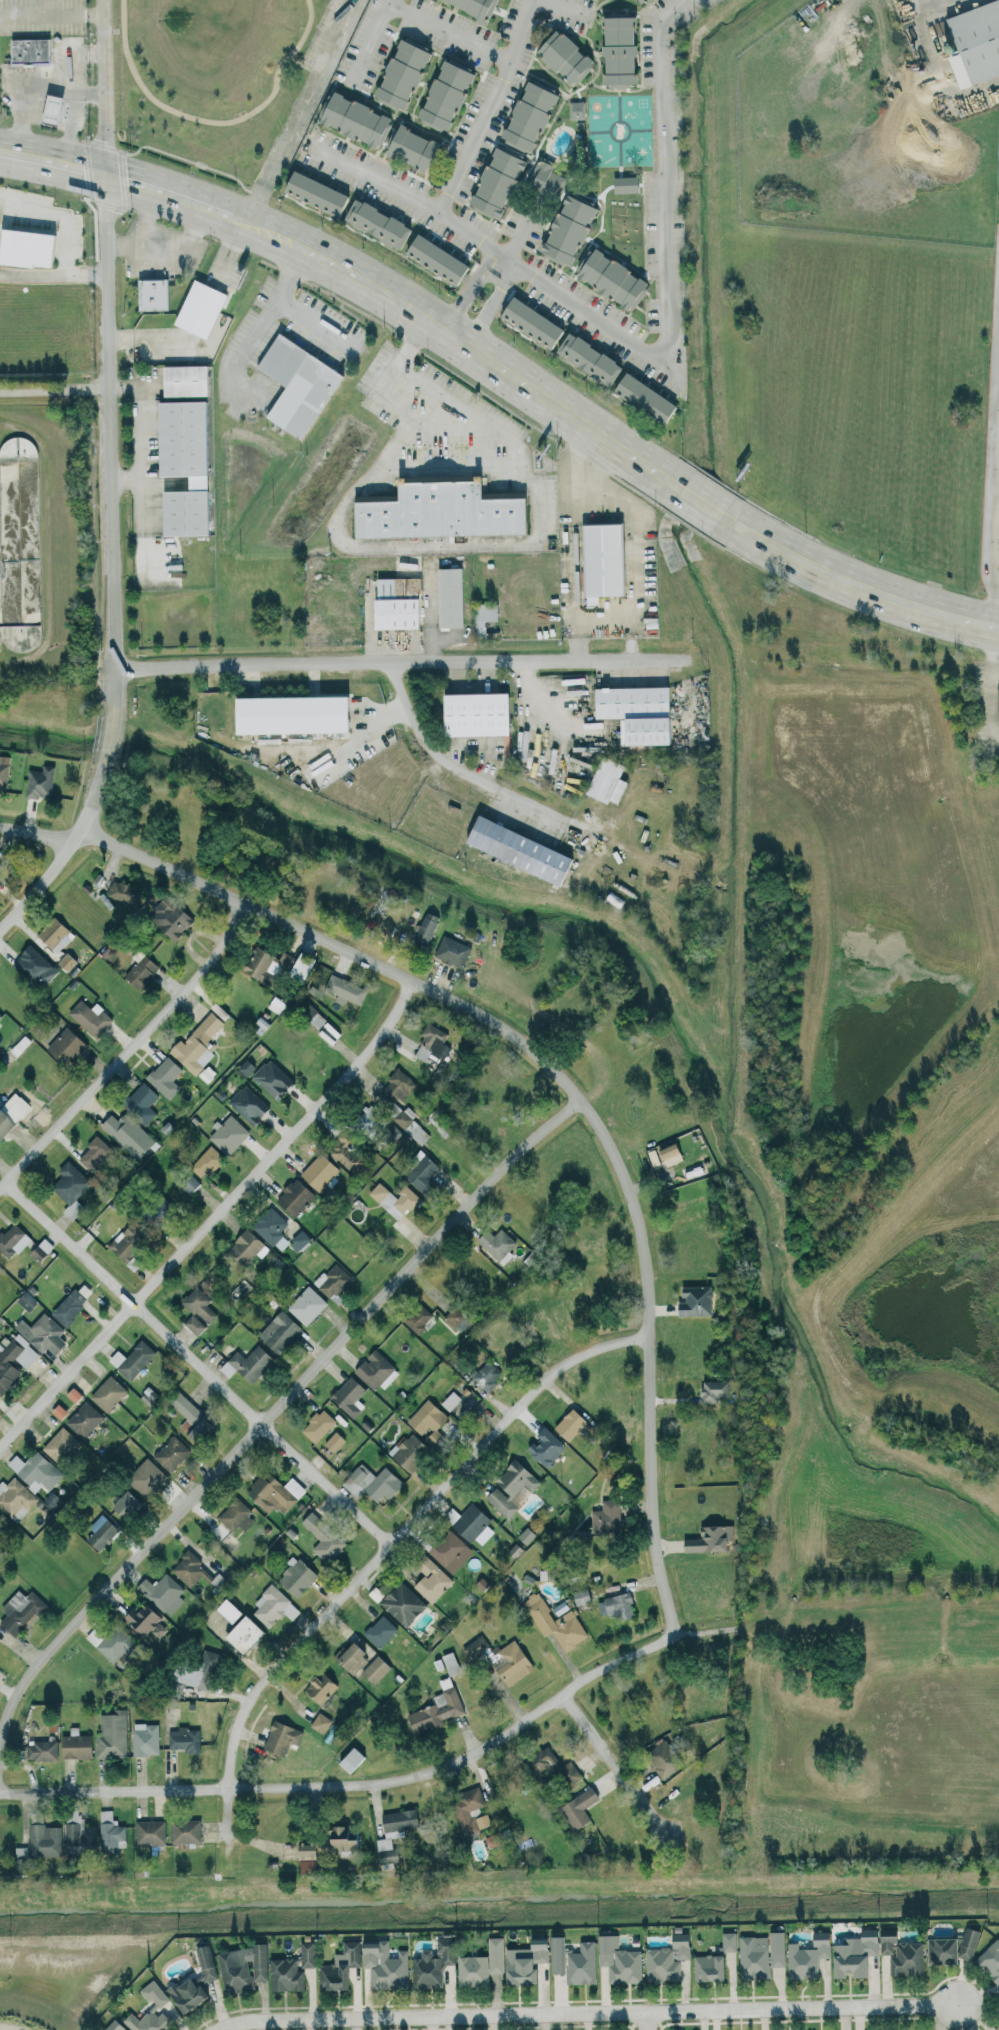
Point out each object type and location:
building: (635, 1)
road: (941, 6)
road: (79, 7)
building: (470, 7)
road: (560, 8)
road: (90, 14)
road: (40, 16)
road: (448, 31)
road: (371, 40)
building: (971, 40)
building: (34, 50)
building: (613, 51)
building: (559, 56)
road: (303, 61)
road: (946, 71)
building: (396, 73)
park: (229, 82)
road: (101, 87)
road: (91, 94)
building: (439, 95)
road: (74, 99)
road: (32, 105)
road: (489, 107)
building: (58, 109)
building: (573, 110)
road: (295, 111)
building: (523, 115)
building: (349, 119)
road: (214, 121)
building: (406, 147)
road: (51, 162)
traffic signals: (103, 174)
building: (541, 179)
building: (491, 181)
building: (310, 192)
road: (174, 194)
road: (148, 219)
road: (60, 220)
building: (371, 223)
building: (562, 229)
road: (521, 230)
building: (31, 248)
road: (171, 252)
building: (430, 258)
road: (495, 265)
road: (504, 271)
road: (53, 279)
building: (606, 279)
building: (148, 294)
road: (465, 301)
building: (998, 307)
building: (193, 308)
road: (485, 314)
building: (526, 321)
road: (315, 322)
road: (260, 323)
road: (468, 345)
road: (648, 352)
building: (584, 359)
road: (998, 373)
building: (182, 380)
building: (292, 385)
road: (55, 392)
building: (638, 397)
road: (998, 420)
road: (447, 426)
road: (136, 432)
road: (111, 444)
building: (179, 465)
road: (445, 466)
road: (613, 490)
road: (702, 502)
road: (993, 504)
building: (432, 512)
wastewater plant: (46, 533)
road: (579, 534)
building: (19, 538)
road: (424, 547)
road: (994, 577)
road: (855, 582)
road: (648, 586)
building: (444, 597)
building: (393, 604)
building: (479, 615)
road: (606, 632)
road: (414, 654)
road: (994, 686)
building: (997, 705)
building: (634, 713)
building: (468, 714)
building: (286, 715)
road: (107, 738)
building: (5, 770)
building: (43, 782)
building: (603, 782)
road: (514, 795)
road: (64, 851)
building: (512, 851)
building: (1, 874)
building: (126, 894)
building: (174, 916)
building: (428, 927)
building: (57, 933)
building: (454, 950)
building: (69, 960)
building: (262, 963)
building: (37, 966)
river: (643, 966)
building: (143, 970)
building: (347, 988)
building: (1, 1015)
building: (92, 1017)
building: (199, 1040)
building: (432, 1041)
road: (128, 1048)
road: (546, 1065)
building: (273, 1079)
building: (166, 1080)
building: (230, 1134)
building: (206, 1162)
building: (323, 1171)
building: (70, 1189)
building: (295, 1196)
building: (395, 1200)
building: (159, 1212)
road: (211, 1216)
building: (14, 1240)
building: (300, 1240)
building: (128, 1242)
building: (247, 1248)
building: (696, 1300)
building: (200, 1304)
building: (307, 1305)
building: (70, 1306)
building: (418, 1317)
building: (456, 1317)
building: (194, 1324)
building: (280, 1331)
building: (43, 1333)
building: (133, 1359)
building: (13, 1360)
road: (195, 1362)
building: (252, 1363)
building: (376, 1370)
building: (109, 1393)
building: (350, 1396)
road: (271, 1400)
building: (451, 1401)
building: (192, 1416)
building: (85, 1419)
building: (428, 1422)
building: (318, 1425)
building: (570, 1425)
building: (334, 1441)
building: (61, 1445)
building: (547, 1446)
building: (410, 1451)
building: (172, 1453)
building: (36, 1470)
building: (147, 1478)
building: (376, 1481)
building: (512, 1488)
building: (275, 1492)
building: (15, 1496)
building: (126, 1503)
building: (236, 1515)
building: (608, 1518)
building: (471, 1523)
building: (102, 1534)
building: (324, 1538)
building: (710, 1539)
building: (451, 1551)
road: (371, 1560)
building: (191, 1569)
building: (296, 1577)
building: (431, 1579)
building: (163, 1592)
building: (581, 1596)
building: (403, 1604)
building: (270, 1606)
building: (616, 1606)
building: (229, 1610)
building: (21, 1611)
building: (291, 1611)
building: (145, 1620)
building: (556, 1621)
building: (380, 1631)
building: (245, 1634)
building: (118, 1645)
building: (476, 1648)
building: (352, 1658)
building: (496, 1660)
building: (451, 1663)
building: (514, 1663)
building: (376, 1669)
building: (198, 1670)
building: (0, 1674)
building: (321, 1687)
building: (438, 1709)
building: (321, 1722)
building: (112, 1734)
building: (282, 1738)
building: (146, 1739)
building: (185, 1739)
building: (77, 1745)
building: (42, 1750)
building: (663, 1757)
building: (352, 1759)
road: (613, 1764)
building: (555, 1768)
road: (384, 1781)
building: (579, 1808)
building: (470, 1811)
building: (186, 1831)
building: (395, 1832)
building: (111, 1833)
building: (150, 1833)
building: (344, 1837)
building: (45, 1840)
building: (308, 1855)
building: (729, 1941)
building: (952, 1948)
building: (556, 1955)
building: (761, 1955)
building: (854, 1955)
building: (903, 1956)
building: (808, 1957)
building: (619, 1960)
building: (666, 1961)
building: (990, 1961)
building: (526, 1962)
building: (206, 1963)
building: (433, 1964)
building: (582, 1964)
building: (385, 1965)
building: (481, 1965)
building: (340, 1967)
building: (243, 1968)
building: (709, 1968)
building: (292, 1969)
building: (187, 1994)
building: (153, 2011)
road: (583, 2013)
road: (647, 2021)
building: (115, 2026)
building: (998, 2027)

